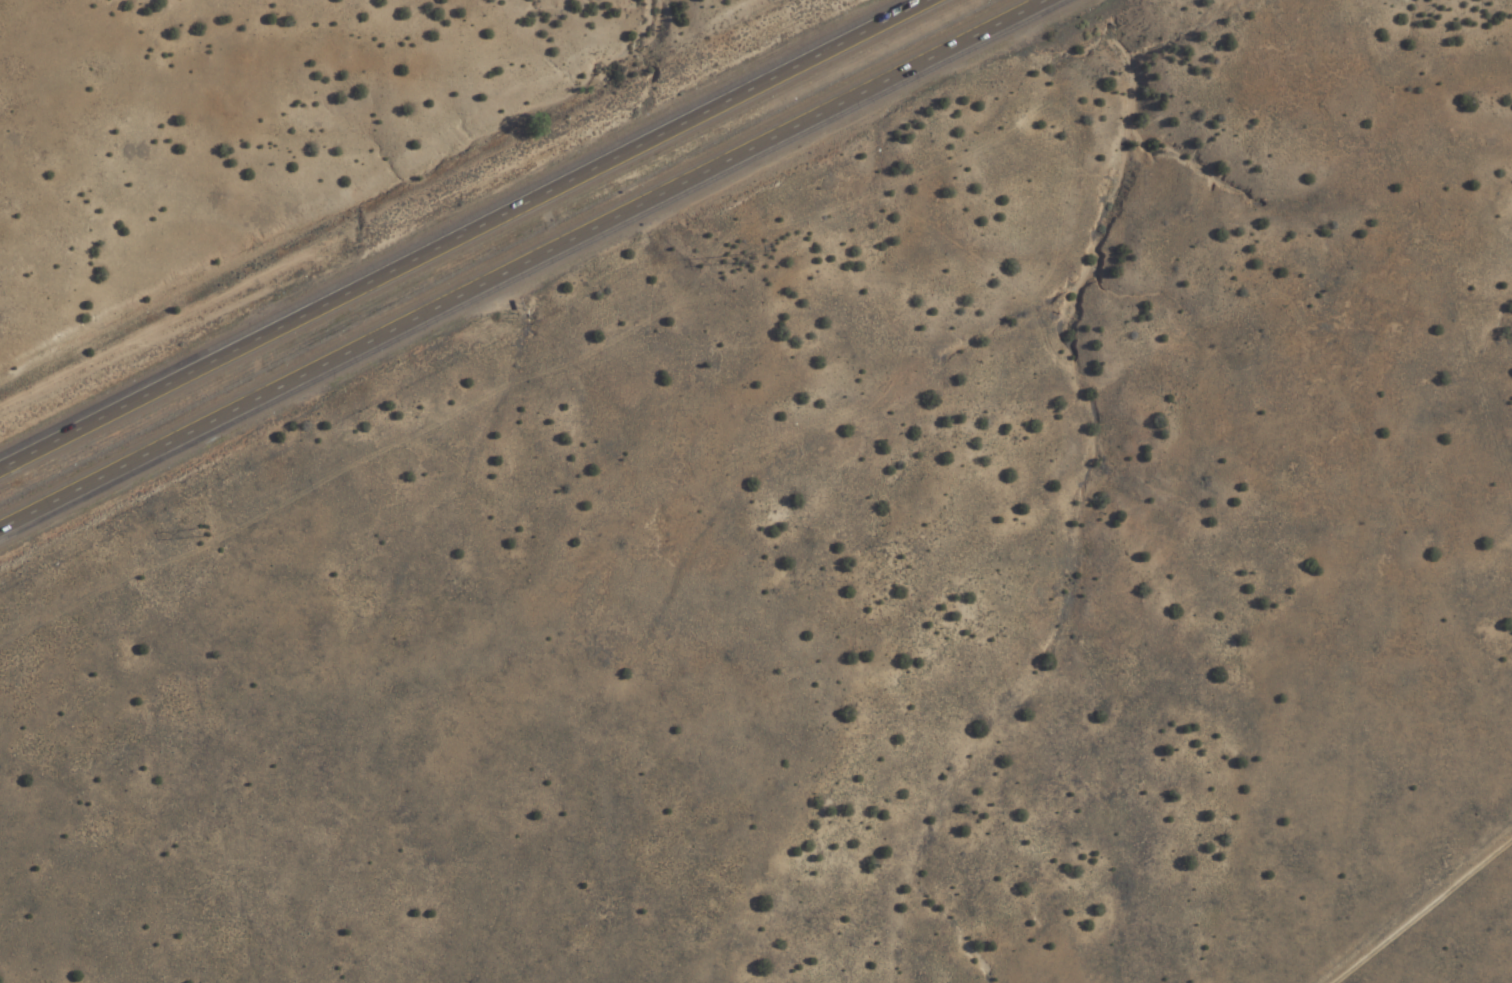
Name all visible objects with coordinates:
road: (465, 234)
road: (521, 266)

